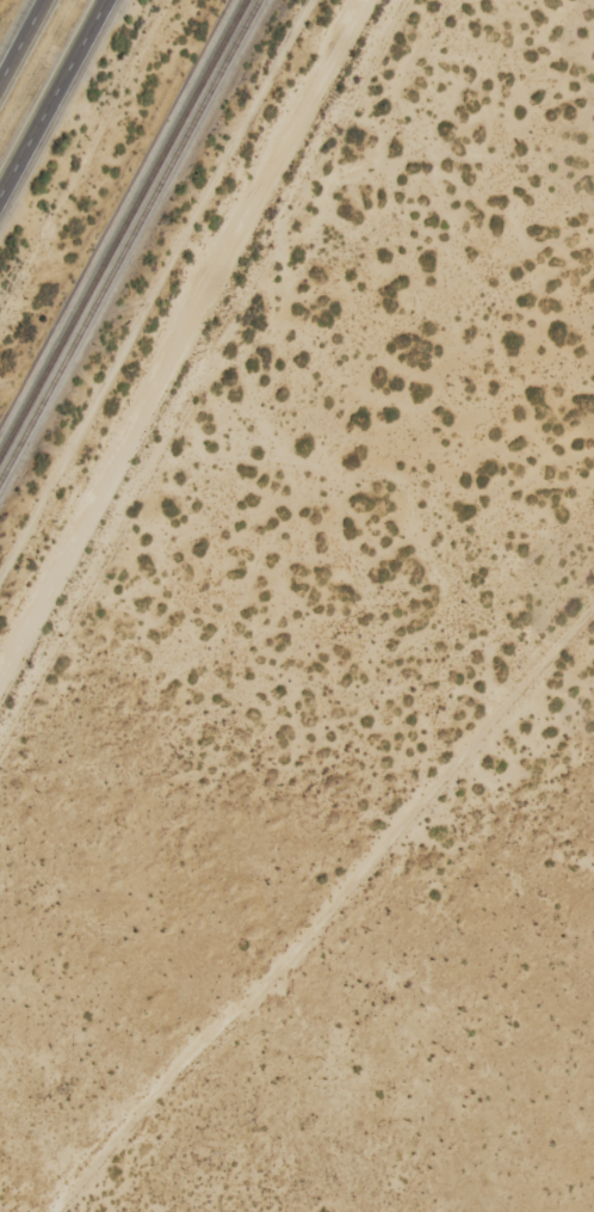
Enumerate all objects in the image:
road: (21, 41)
road: (50, 94)
railway: (122, 226)
railway: (129, 240)
road: (236, 439)
road: (308, 876)

